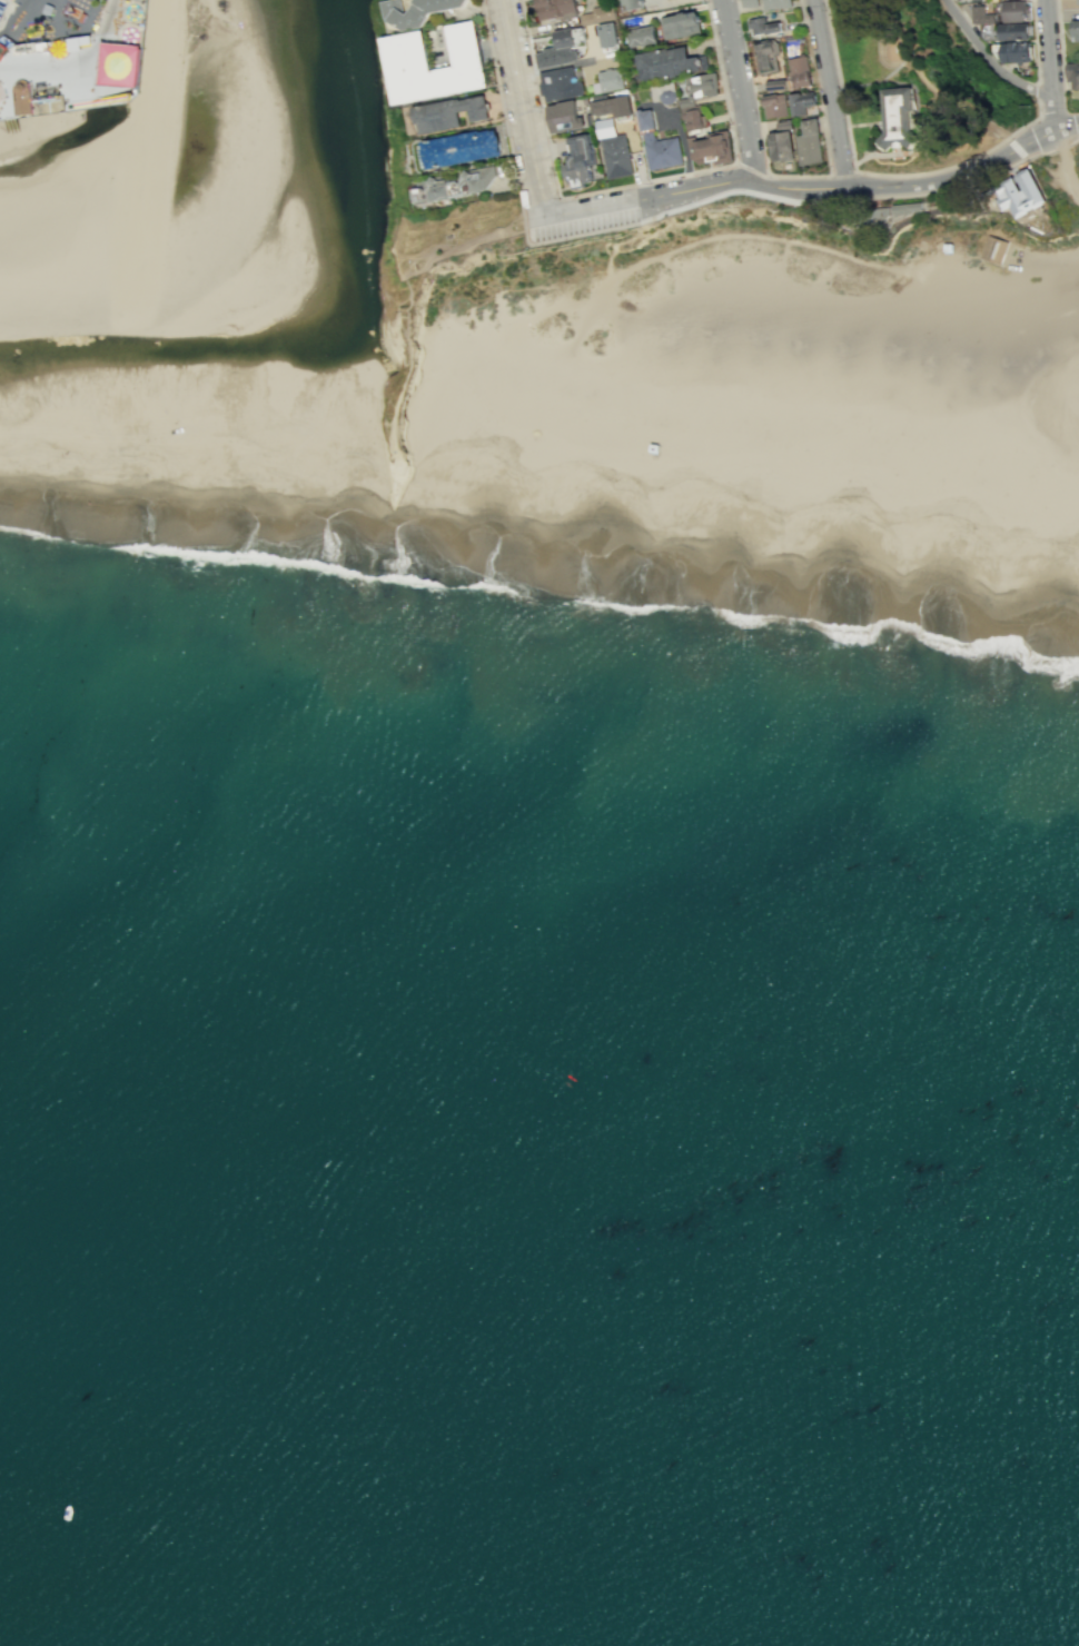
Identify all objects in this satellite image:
building: (964, 0)
building: (4, 1)
building: (1078, 1)
building: (750, 3)
building: (778, 3)
building: (633, 4)
building: (1, 7)
building: (44, 9)
building: (418, 11)
building: (558, 11)
building: (1014, 11)
building: (598, 13)
road: (802, 16)
building: (982, 16)
building: (681, 26)
building: (764, 27)
building: (1076, 30)
building: (1014, 32)
building: (608, 37)
building: (644, 37)
building: (566, 38)
road: (1033, 40)
road: (1060, 43)
building: (40, 48)
building: (23, 50)
building: (58, 50)
building: (1016, 51)
building: (408, 52)
theme park: (68, 54)
building: (768, 56)
building: (556, 57)
road: (988, 62)
road: (1051, 62)
building: (667, 63)
building: (118, 65)
road: (80, 69)
building: (801, 72)
building: (1073, 73)
building: (610, 78)
road: (872, 81)
road: (1041, 81)
road: (840, 82)
road: (902, 82)
building: (557, 83)
building: (775, 85)
road: (832, 87)
road: (928, 87)
building: (700, 88)
road: (741, 93)
park: (928, 98)
building: (22, 99)
building: (802, 102)
building: (613, 106)
building: (776, 106)
park: (336, 110)
building: (451, 111)
building: (566, 117)
building: (900, 118)
building: (646, 119)
building: (694, 119)
road: (1030, 119)
road: (865, 127)
road: (1063, 136)
road: (873, 142)
building: (812, 143)
road: (1072, 143)
building: (784, 146)
building: (463, 147)
road: (1017, 147)
building: (713, 148)
road: (764, 148)
building: (662, 150)
road: (1047, 153)
building: (616, 156)
road: (888, 157)
building: (581, 159)
road: (753, 169)
road: (1068, 170)
road: (936, 172)
road: (844, 173)
road: (830, 175)
road: (851, 180)
road: (628, 184)
building: (456, 186)
road: (709, 188)
building: (1020, 192)
road: (539, 200)
building: (912, 208)
road: (656, 215)
parking lot: (584, 224)
road: (615, 240)
road: (464, 249)
building: (996, 254)
river: (343, 343)
road: (409, 374)
building: (150, 419)

